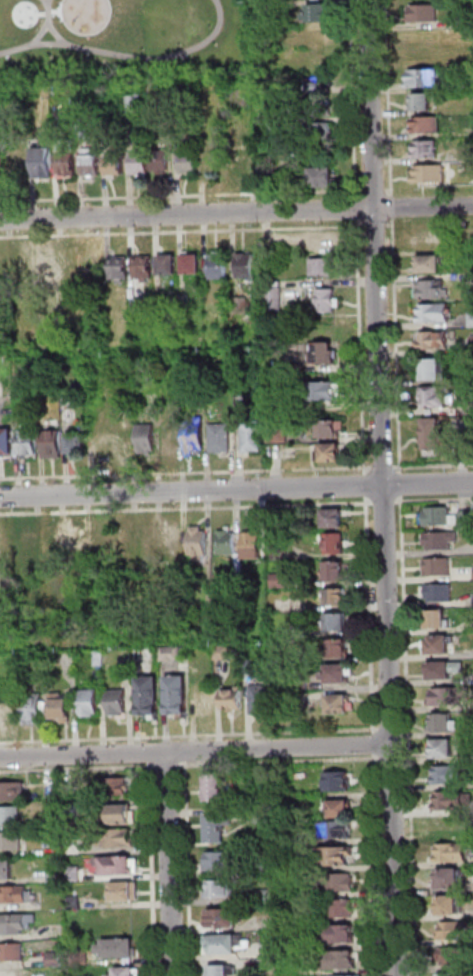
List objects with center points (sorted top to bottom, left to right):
building: (317, 12)
building: (424, 13)
building: (466, 20)
park: (121, 37)
building: (316, 61)
building: (426, 78)
building: (467, 82)
building: (312, 87)
road: (353, 98)
road: (388, 98)
building: (422, 102)
building: (133, 106)
building: (321, 107)
building: (107, 118)
building: (168, 123)
building: (427, 125)
building: (59, 126)
building: (278, 126)
building: (83, 131)
building: (321, 131)
building: (427, 149)
building: (468, 153)
building: (43, 159)
building: (17, 160)
building: (160, 160)
building: (92, 161)
building: (67, 162)
building: (188, 162)
building: (140, 163)
building: (224, 163)
building: (116, 164)
building: (2, 166)
building: (431, 174)
building: (322, 176)
road: (373, 190)
road: (388, 190)
road: (182, 196)
road: (356, 204)
road: (392, 207)
road: (236, 213)
road: (381, 226)
road: (390, 226)
building: (428, 238)
building: (321, 240)
building: (116, 261)
building: (141, 261)
building: (166, 261)
building: (189, 262)
building: (431, 262)
building: (243, 263)
building: (215, 264)
building: (19, 265)
building: (44, 266)
building: (322, 266)
building: (431, 288)
building: (183, 298)
building: (271, 298)
building: (325, 298)
building: (239, 304)
building: (433, 313)
building: (471, 320)
building: (435, 339)
road: (396, 346)
building: (320, 352)
building: (436, 368)
building: (320, 388)
building: (461, 390)
building: (435, 395)
building: (124, 403)
building: (276, 406)
building: (469, 406)
building: (327, 427)
building: (434, 432)
building: (279, 433)
building: (168, 434)
building: (250, 434)
building: (193, 436)
building: (218, 436)
building: (74, 438)
building: (120, 438)
building: (143, 438)
building: (4, 440)
building: (26, 442)
building: (51, 443)
building: (329, 451)
road: (434, 466)
road: (383, 468)
road: (366, 469)
road: (401, 484)
road: (366, 486)
road: (383, 487)
road: (236, 489)
road: (437, 500)
road: (399, 502)
road: (384, 503)
road: (370, 504)
building: (438, 516)
building: (335, 517)
building: (467, 518)
building: (172, 540)
building: (441, 540)
building: (149, 541)
building: (124, 543)
building: (227, 543)
building: (335, 543)
building: (198, 544)
building: (253, 545)
building: (52, 546)
building: (78, 546)
building: (27, 547)
building: (282, 553)
building: (438, 566)
building: (336, 570)
building: (279, 581)
building: (440, 592)
building: (337, 596)
road: (369, 615)
building: (438, 619)
building: (336, 621)
building: (440, 644)
building: (339, 648)
building: (223, 653)
building: (143, 654)
building: (175, 654)
building: (99, 658)
building: (126, 666)
building: (252, 667)
building: (445, 669)
building: (337, 674)
building: (178, 694)
building: (149, 695)
building: (203, 696)
building: (449, 696)
building: (260, 699)
building: (232, 700)
building: (89, 702)
building: (118, 702)
building: (339, 704)
building: (61, 707)
building: (8, 710)
building: (36, 710)
building: (443, 723)
road: (193, 736)
road: (409, 736)
road: (373, 744)
building: (444, 748)
road: (194, 750)
road: (283, 761)
road: (168, 766)
road: (78, 770)
building: (451, 775)
building: (263, 778)
building: (337, 781)
building: (117, 786)
building: (214, 787)
building: (70, 789)
building: (12, 791)
building: (453, 801)
building: (340, 808)
building: (70, 809)
building: (121, 814)
building: (10, 815)
building: (262, 815)
building: (448, 825)
building: (216, 829)
building: (337, 830)
building: (119, 838)
building: (11, 842)
building: (452, 853)
building: (334, 856)
building: (220, 862)
road: (189, 863)
road: (152, 864)
road: (167, 864)
building: (118, 865)
building: (289, 865)
road: (377, 865)
building: (264, 866)
building: (6, 870)
building: (74, 874)
building: (54, 876)
building: (451, 879)
building: (336, 883)
building: (219, 889)
building: (123, 891)
building: (14, 894)
building: (289, 894)
building: (263, 897)
building: (74, 903)
building: (450, 905)
building: (341, 908)
building: (291, 915)
building: (223, 918)
building: (13, 925)
building: (455, 930)
building: (339, 934)
building: (221, 944)
building: (118, 948)
building: (269, 950)
building: (12, 952)
building: (452, 957)
building: (54, 959)
building: (340, 960)
building: (224, 971)
building: (128, 972)
building: (25, 973)
building: (450, 974)
building: (345, 975)

